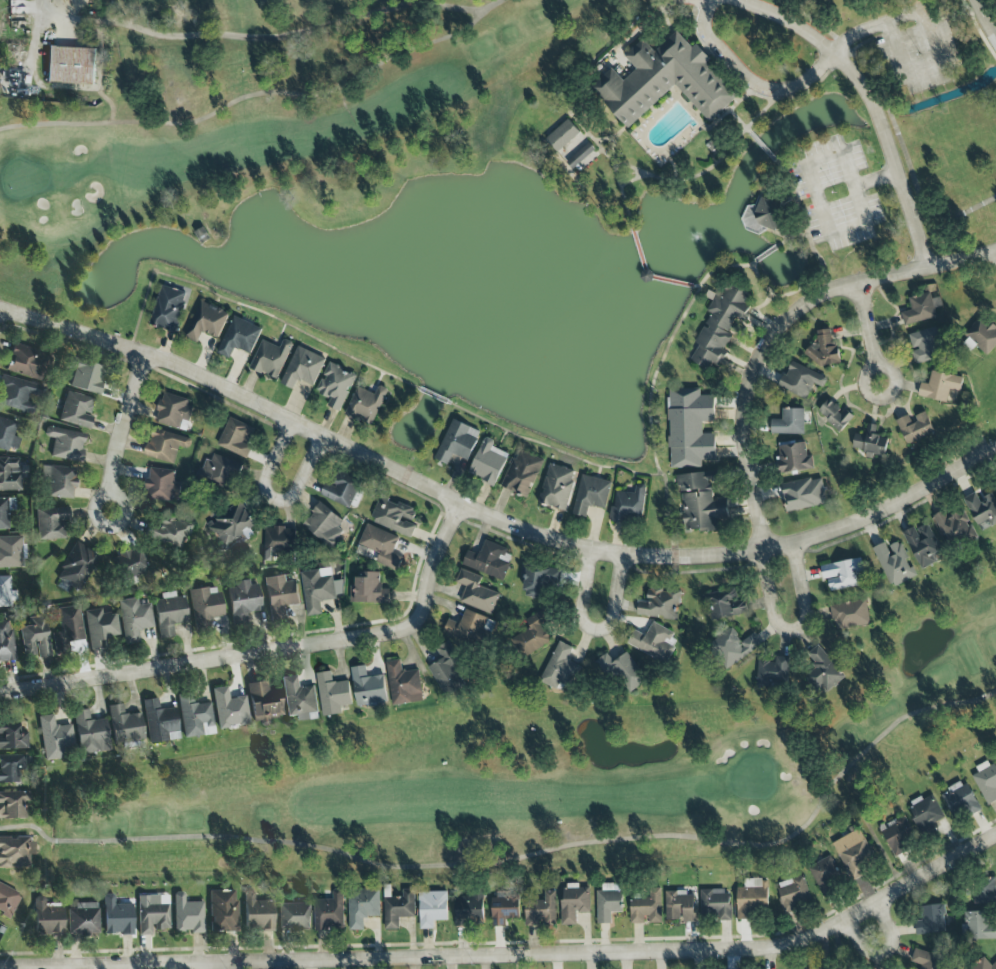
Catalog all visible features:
park: (994, 2)
road: (984, 20)
road: (265, 38)
road: (929, 39)
road: (817, 42)
building: (71, 65)
road: (751, 76)
building: (663, 77)
park: (437, 110)
road: (876, 117)
building: (562, 136)
road: (891, 152)
building: (580, 156)
building: (764, 213)
road: (860, 221)
building: (646, 276)
road: (647, 276)
building: (168, 308)
building: (920, 309)
building: (206, 322)
building: (720, 325)
road: (780, 330)
road: (868, 332)
building: (983, 335)
building: (239, 337)
building: (925, 345)
building: (823, 349)
building: (271, 358)
building: (24, 361)
building: (302, 368)
building: (87, 377)
building: (801, 380)
building: (335, 385)
building: (940, 386)
building: (17, 394)
building: (366, 405)
building: (76, 411)
building: (174, 411)
building: (835, 414)
building: (788, 422)
building: (914, 426)
building: (690, 427)
road: (125, 433)
building: (7, 435)
building: (236, 437)
building: (457, 442)
building: (870, 442)
building: (65, 444)
building: (165, 445)
building: (793, 457)
building: (488, 462)
building: (220, 469)
building: (522, 473)
building: (10, 474)
building: (58, 481)
building: (995, 482)
building: (162, 485)
building: (557, 487)
building: (341, 488)
building: (803, 494)
building: (591, 495)
road: (275, 500)
building: (700, 502)
building: (629, 505)
building: (982, 510)
building: (5, 511)
road: (491, 515)
building: (394, 517)
building: (51, 523)
building: (323, 524)
building: (231, 526)
building: (954, 526)
building: (170, 530)
building: (277, 540)
building: (381, 545)
building: (923, 545)
building: (11, 551)
building: (489, 560)
building: (129, 563)
building: (894, 563)
building: (77, 567)
building: (842, 573)
building: (538, 578)
building: (368, 588)
building: (318, 589)
building: (5, 591)
building: (476, 592)
building: (280, 596)
building: (243, 601)
building: (660, 603)
building: (206, 604)
building: (723, 604)
building: (169, 614)
building: (850, 614)
building: (134, 619)
building: (99, 627)
building: (469, 628)
road: (795, 628)
road: (594, 629)
building: (67, 630)
building: (533, 633)
building: (35, 639)
building: (653, 641)
building: (6, 642)
building: (735, 645)
road: (273, 652)
building: (446, 669)
building: (559, 669)
building: (622, 672)
building: (773, 672)
building: (822, 672)
building: (403, 684)
building: (367, 686)
building: (332, 693)
building: (299, 700)
building: (263, 702)
building: (229, 709)
building: (159, 722)
building: (125, 725)
building: (90, 734)
building: (12, 737)
building: (54, 738)
building: (11, 769)
park: (554, 769)
building: (986, 781)
building: (960, 800)
building: (12, 805)
building: (926, 811)
building: (896, 834)
building: (16, 852)
building: (853, 853)
building: (825, 875)
building: (984, 890)
building: (793, 892)
building: (751, 897)
building: (7, 900)
building: (609, 901)
building: (573, 902)
building: (714, 903)
building: (362, 906)
building: (681, 906)
building: (504, 907)
building: (432, 908)
building: (647, 908)
building: (468, 909)
building: (541, 910)
building: (223, 911)
building: (329, 911)
building: (258, 913)
building: (153, 914)
building: (187, 914)
building: (293, 916)
building: (116, 917)
building: (47, 918)
building: (82, 919)
building: (931, 919)
building: (978, 924)
road: (883, 952)
road: (540, 957)
building: (926, 959)
building: (983, 965)

